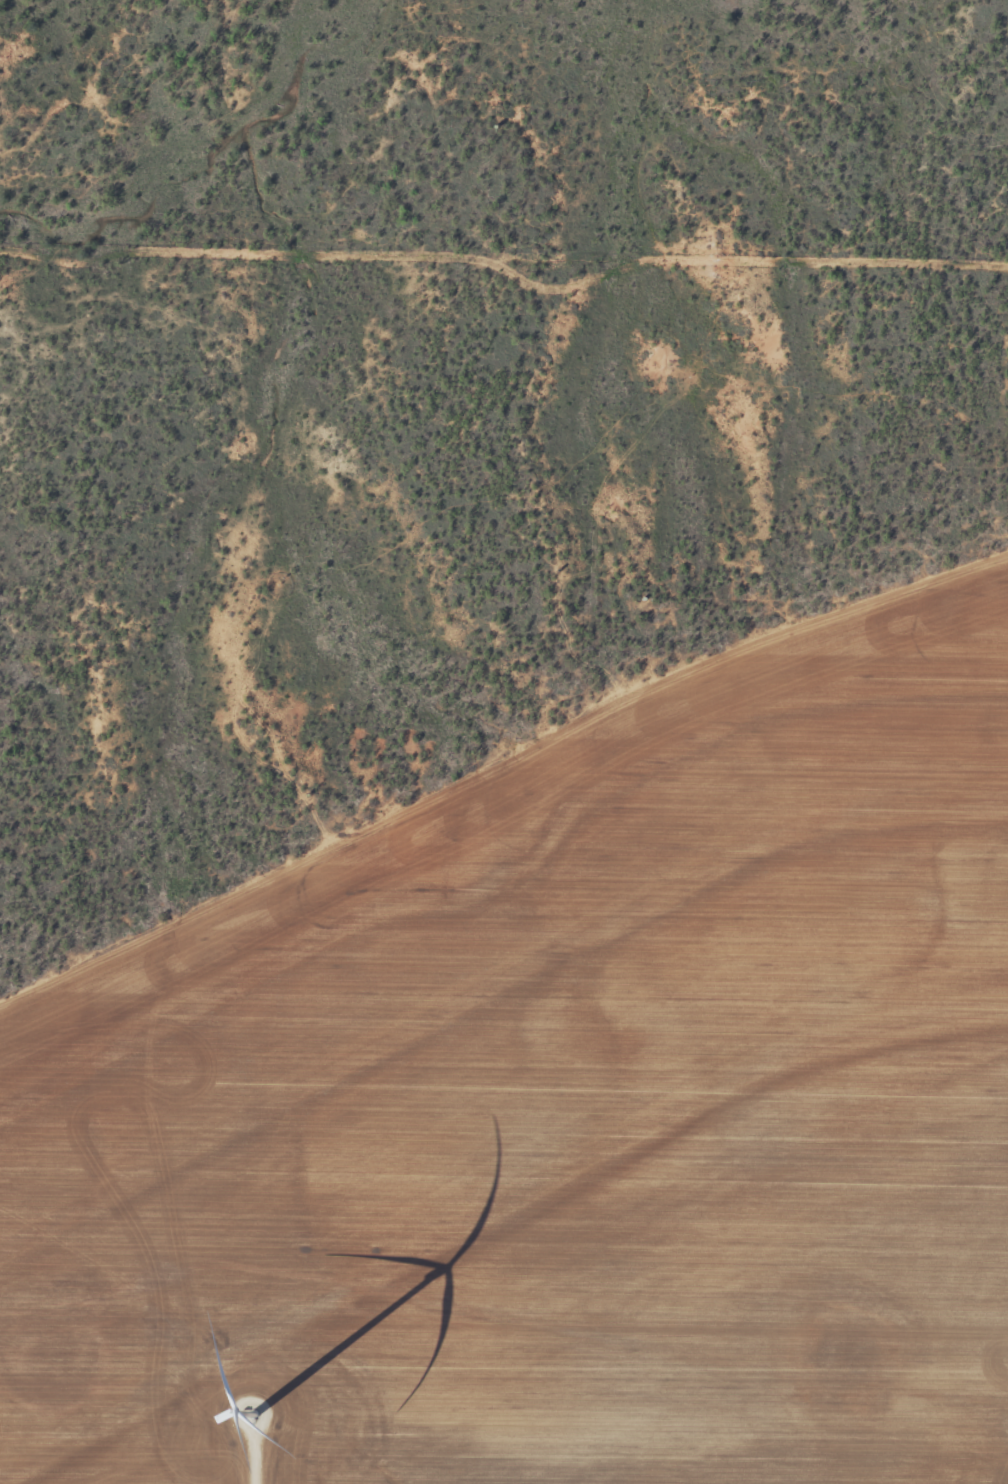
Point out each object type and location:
wind turbine: (245, 1400)

